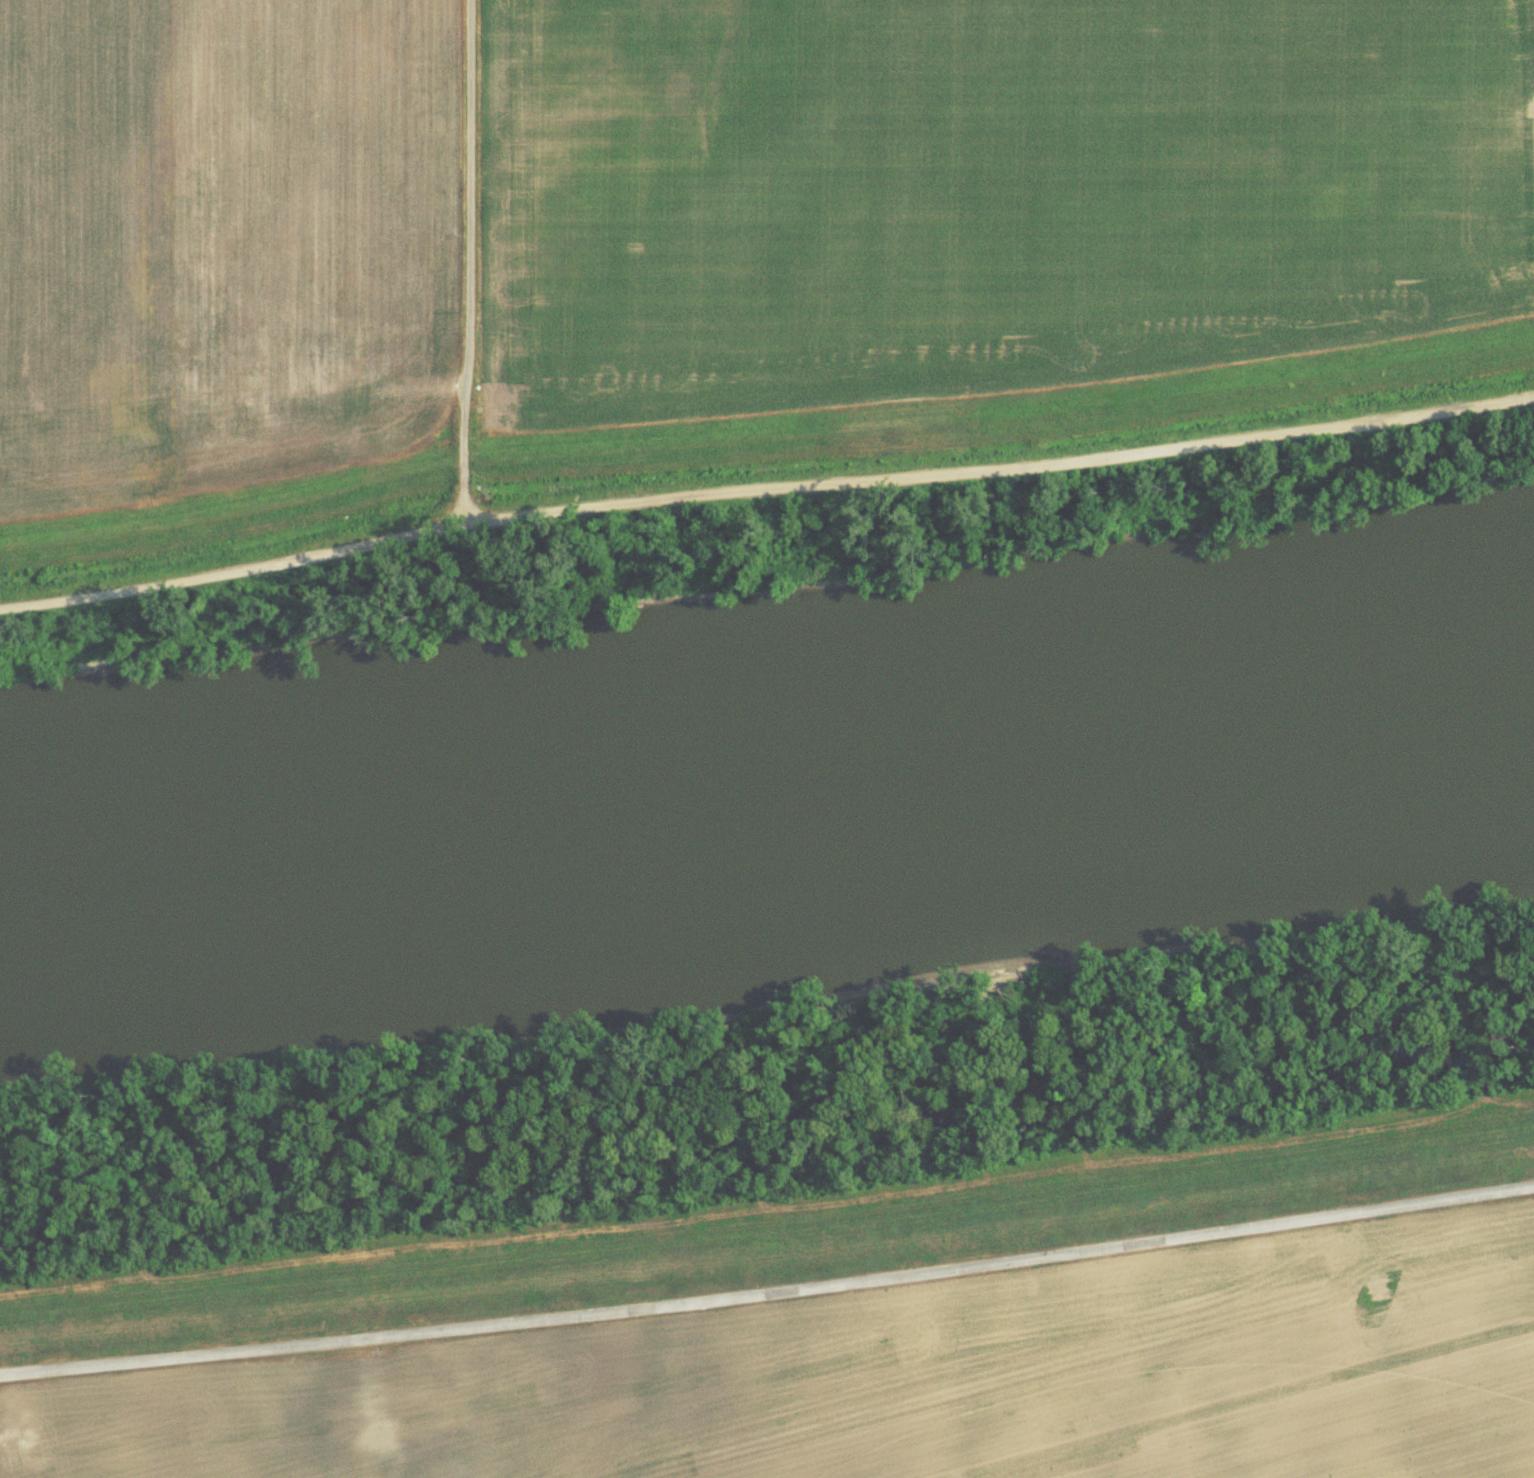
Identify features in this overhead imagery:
road: (469, 264)
road: (764, 492)
river: (766, 774)
road: (768, 1295)

